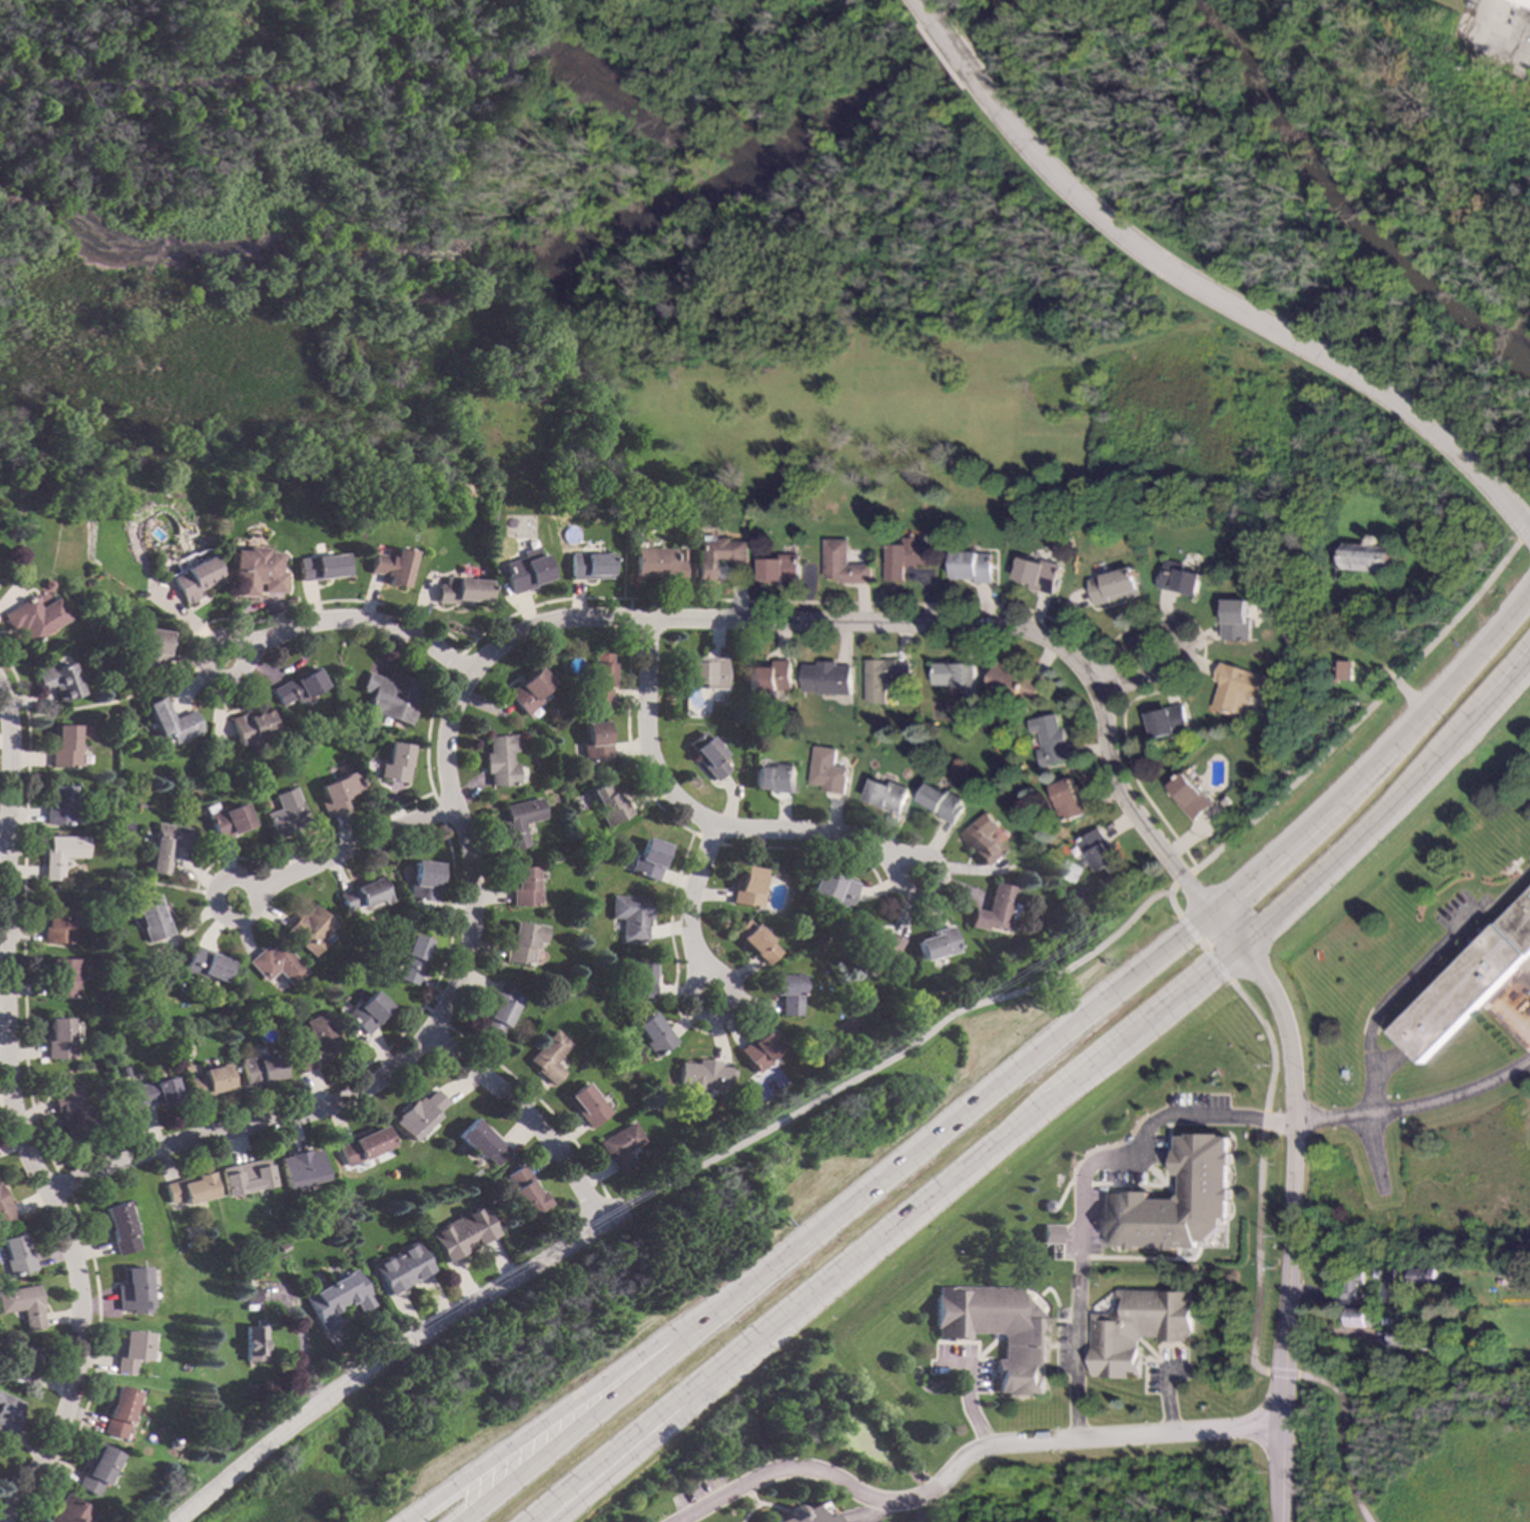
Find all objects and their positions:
building: (1523, 2)
road: (918, 5)
road: (1498, 21)
road: (957, 58)
river: (1336, 183)
river: (569, 248)
park: (798, 280)
road: (1256, 322)
building: (489, 515)
road: (1525, 535)
building: (1269, 544)
building: (717, 554)
building: (905, 557)
building: (1362, 558)
building: (845, 563)
building: (658, 564)
building: (391, 565)
building: (590, 565)
building: (975, 565)
building: (321, 567)
building: (780, 569)
building: (527, 570)
building: (255, 571)
building: (1040, 572)
building: (1182, 577)
building: (193, 579)
building: (45, 584)
building: (1117, 584)
building: (462, 589)
building: (33, 617)
building: (1238, 619)
road: (348, 623)
road: (517, 635)
building: (152, 648)
road: (1186, 651)
building: (1342, 669)
building: (707, 672)
building: (956, 673)
building: (770, 675)
building: (884, 676)
building: (826, 677)
building: (602, 678)
building: (59, 680)
building: (1017, 680)
building: (298, 686)
building: (1237, 686)
building: (530, 689)
building: (394, 696)
road: (125, 698)
road: (1363, 714)
building: (972, 719)
building: (1170, 721)
building: (173, 722)
building: (252, 725)
building: (1050, 739)
building: (597, 742)
building: (67, 747)
building: (708, 754)
building: (502, 760)
building: (397, 762)
road: (1369, 769)
building: (828, 770)
road: (27, 771)
building: (774, 777)
building: (190, 792)
building: (339, 792)
building: (889, 794)
building: (1190, 795)
building: (1071, 798)
building: (943, 801)
building: (609, 803)
building: (62, 805)
building: (286, 813)
road: (1377, 815)
building: (228, 819)
road: (703, 819)
building: (523, 820)
road: (3, 834)
building: (984, 837)
building: (167, 846)
building: (1099, 849)
road: (13, 853)
building: (65, 854)
road: (344, 854)
building: (650, 859)
building: (777, 871)
road: (1182, 878)
building: (425, 881)
building: (527, 886)
road: (129, 887)
building: (748, 887)
building: (833, 889)
building: (364, 894)
road: (1169, 899)
building: (994, 909)
road: (687, 911)
building: (632, 916)
building: (153, 917)
building: (60, 925)
road: (1456, 925)
road: (1187, 927)
road: (1225, 928)
building: (310, 929)
building: (757, 940)
building: (876, 941)
building: (524, 943)
building: (937, 943)
road: (1201, 945)
building: (414, 959)
building: (275, 963)
building: (206, 964)
road: (1216, 965)
building: (102, 968)
building: (64, 977)
building: (641, 978)
building: (1467, 982)
road: (1393, 989)
building: (788, 993)
building: (501, 1007)
building: (368, 1011)
building: (292, 1020)
building: (653, 1035)
road: (24, 1036)
building: (59, 1039)
road: (1269, 1040)
building: (317, 1043)
building: (761, 1048)
road: (901, 1053)
building: (549, 1056)
building: (259, 1069)
building: (122, 1071)
building: (700, 1080)
building: (209, 1081)
building: (153, 1093)
building: (587, 1104)
road: (1416, 1104)
building: (70, 1111)
building: (420, 1115)
road: (527, 1118)
road: (1263, 1121)
road: (1367, 1121)
road: (16, 1123)
building: (482, 1143)
building: (364, 1146)
building: (620, 1146)
road: (966, 1167)
building: (301, 1168)
building: (244, 1177)
road: (61, 1185)
road: (1076, 1187)
building: (189, 1189)
building: (524, 1191)
building: (1177, 1203)
building: (252, 1207)
building: (1043, 1208)
building: (5, 1209)
road: (1290, 1226)
building: (116, 1228)
road: (828, 1228)
building: (461, 1234)
building: (1049, 1234)
building: (280, 1247)
building: (17, 1255)
road: (1258, 1255)
building: (400, 1268)
building: (1374, 1273)
building: (1424, 1278)
building: (245, 1283)
building: (1351, 1284)
building: (131, 1291)
building: (250, 1295)
building: (237, 1296)
building: (336, 1298)
building: (23, 1305)
building: (1359, 1317)
building: (1139, 1327)
building: (998, 1332)
building: (1403, 1336)
building: (251, 1343)
building: (129, 1351)
road: (389, 1352)
building: (20, 1365)
road: (1281, 1373)
road: (605, 1387)
road: (1168, 1399)
road: (968, 1405)
building: (116, 1412)
building: (8, 1415)
park: (1418, 1435)
road: (1342, 1437)
road: (627, 1446)
road: (961, 1456)
building: (95, 1469)
building: (68, 1511)
building: (804, 1514)

